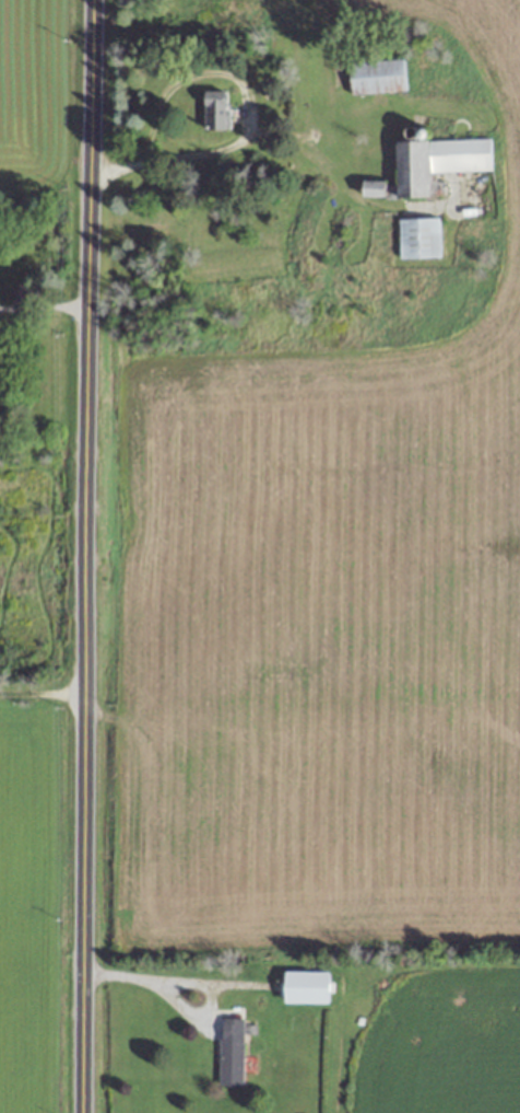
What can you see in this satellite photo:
building: (375, 76)
building: (215, 108)
road: (247, 108)
building: (435, 162)
building: (417, 237)
road: (44, 308)
road: (85, 556)
road: (161, 974)
building: (304, 986)
building: (229, 1052)

